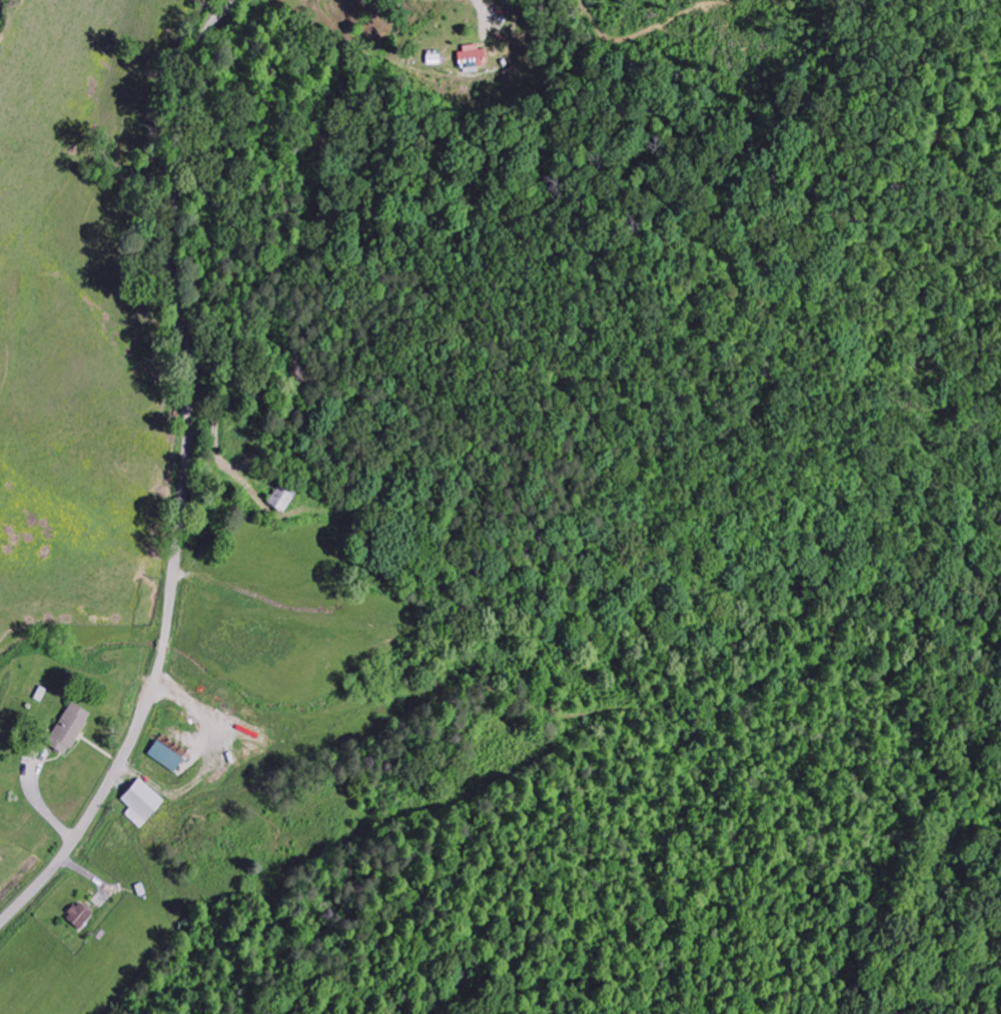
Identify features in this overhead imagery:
building: (474, 60)
road: (186, 478)
building: (283, 499)
building: (69, 729)
building: (166, 757)
building: (142, 803)
building: (80, 917)

